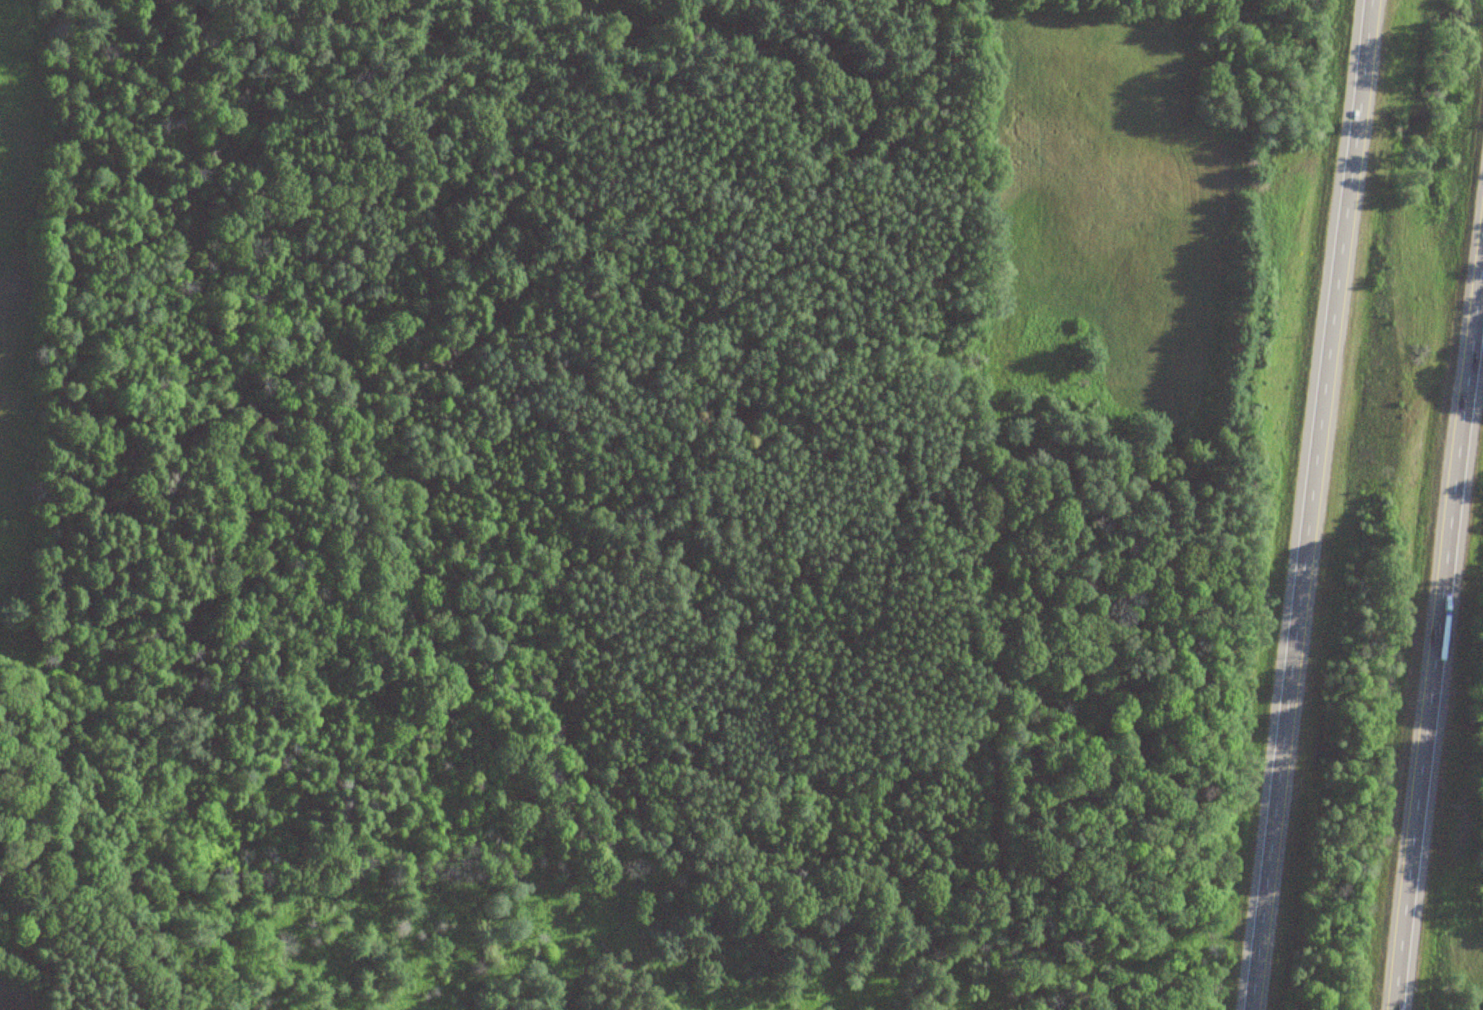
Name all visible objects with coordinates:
road: (1304, 505)
road: (1429, 633)

